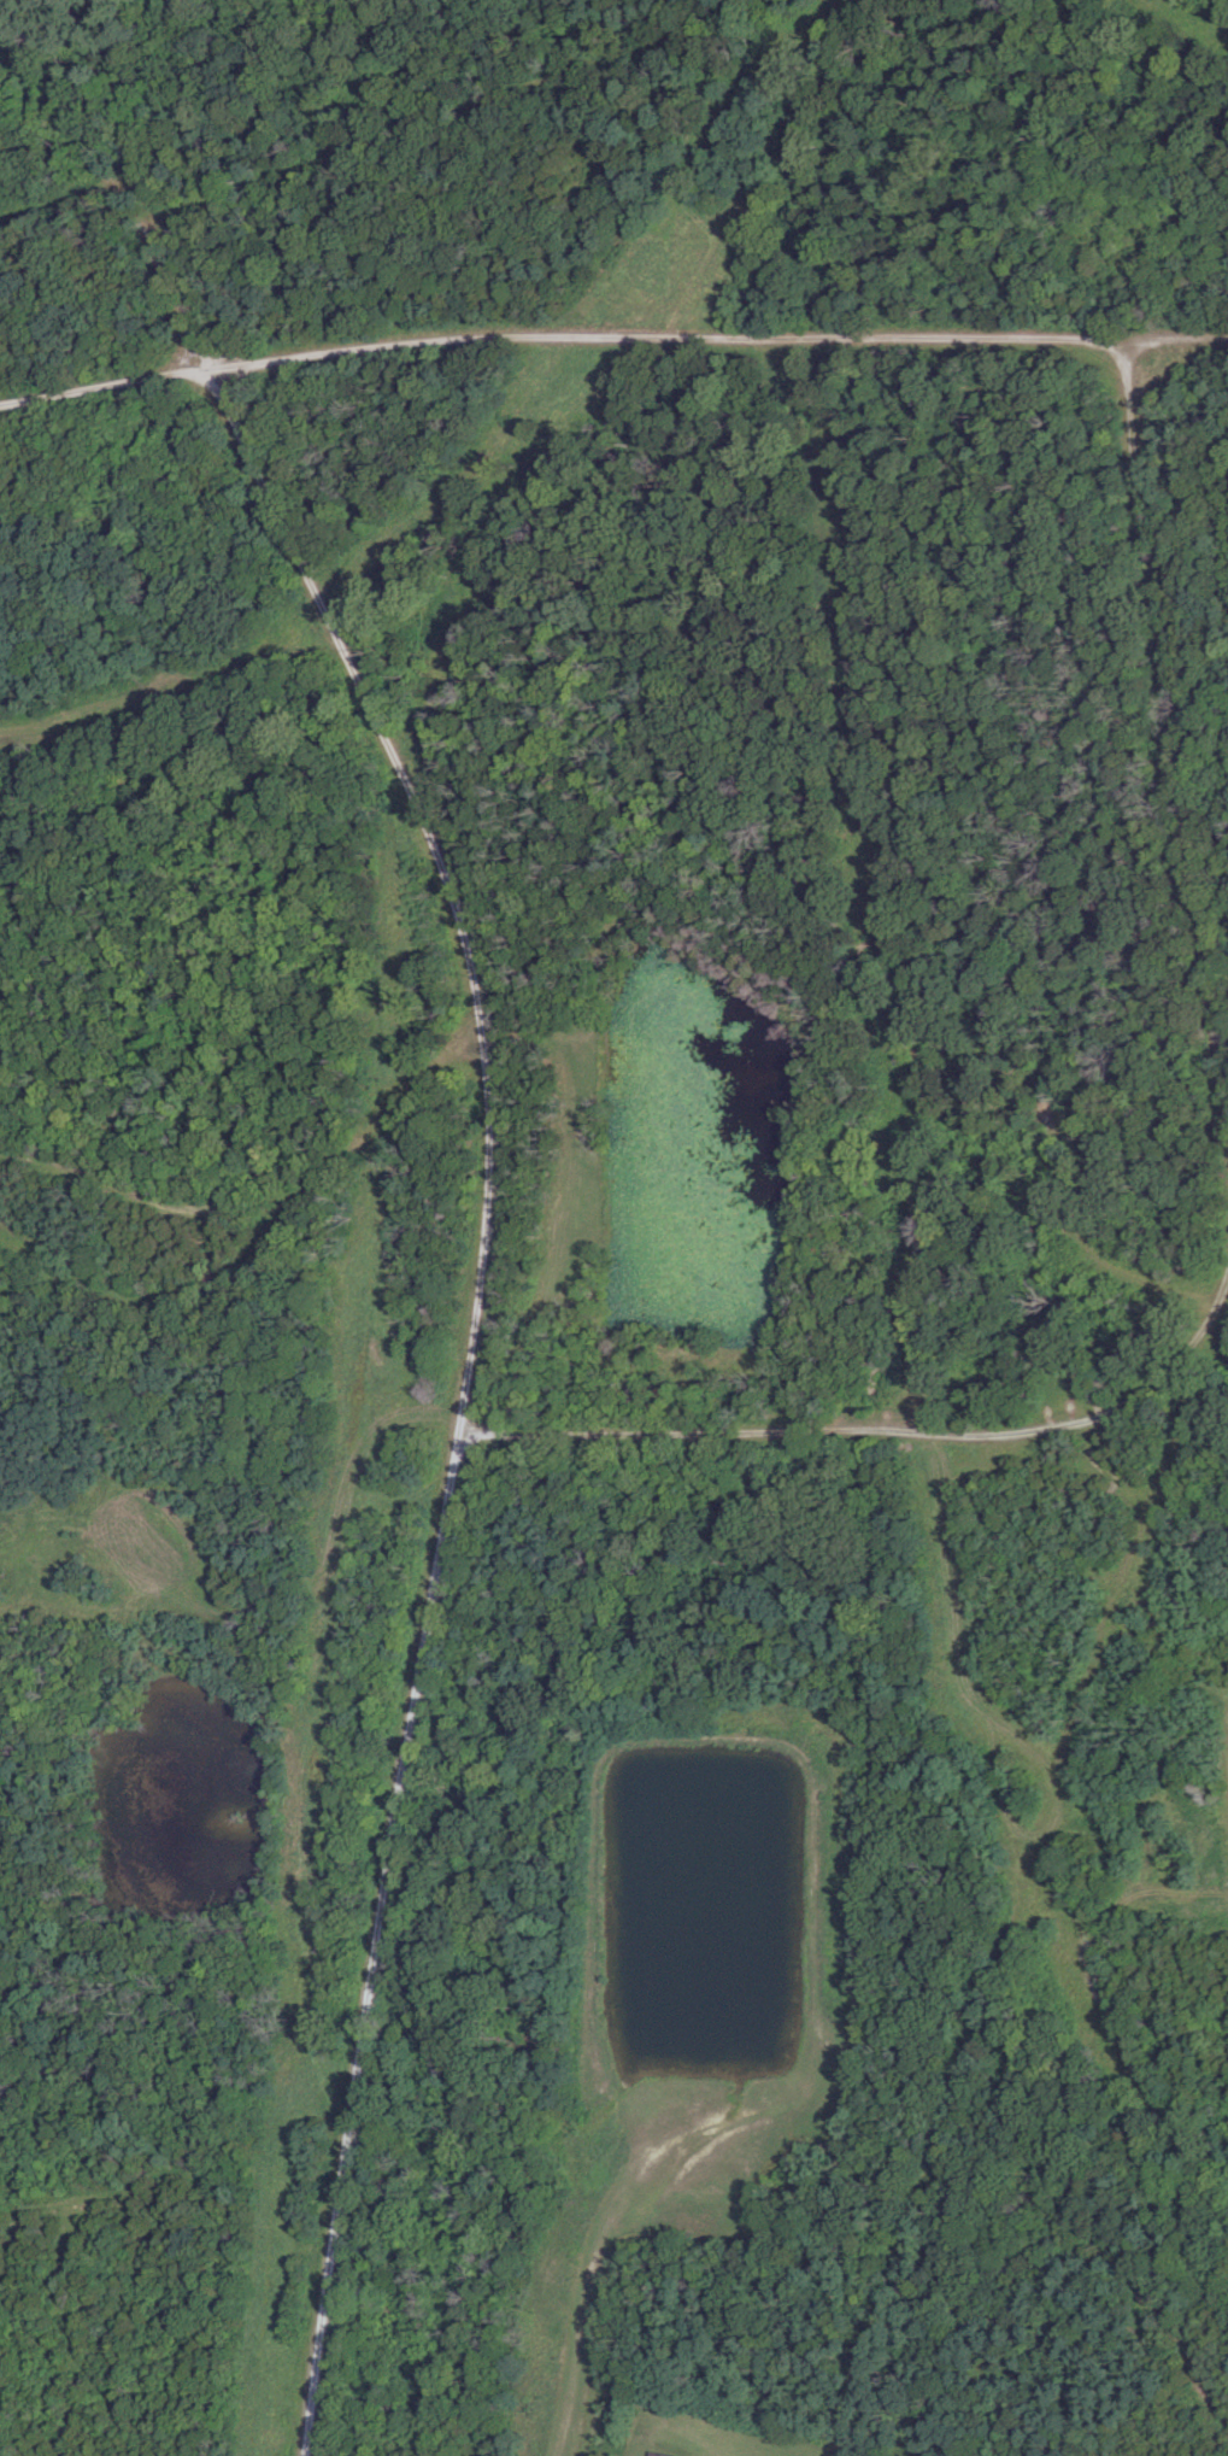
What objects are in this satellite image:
road: (1186, 20)
road: (451, 111)
road: (287, 116)
road: (611, 335)
road: (1170, 727)
road: (266, 1203)
road: (475, 1284)
road: (161, 1293)
road: (876, 1429)
road: (1022, 1894)
building: (660, 2454)

